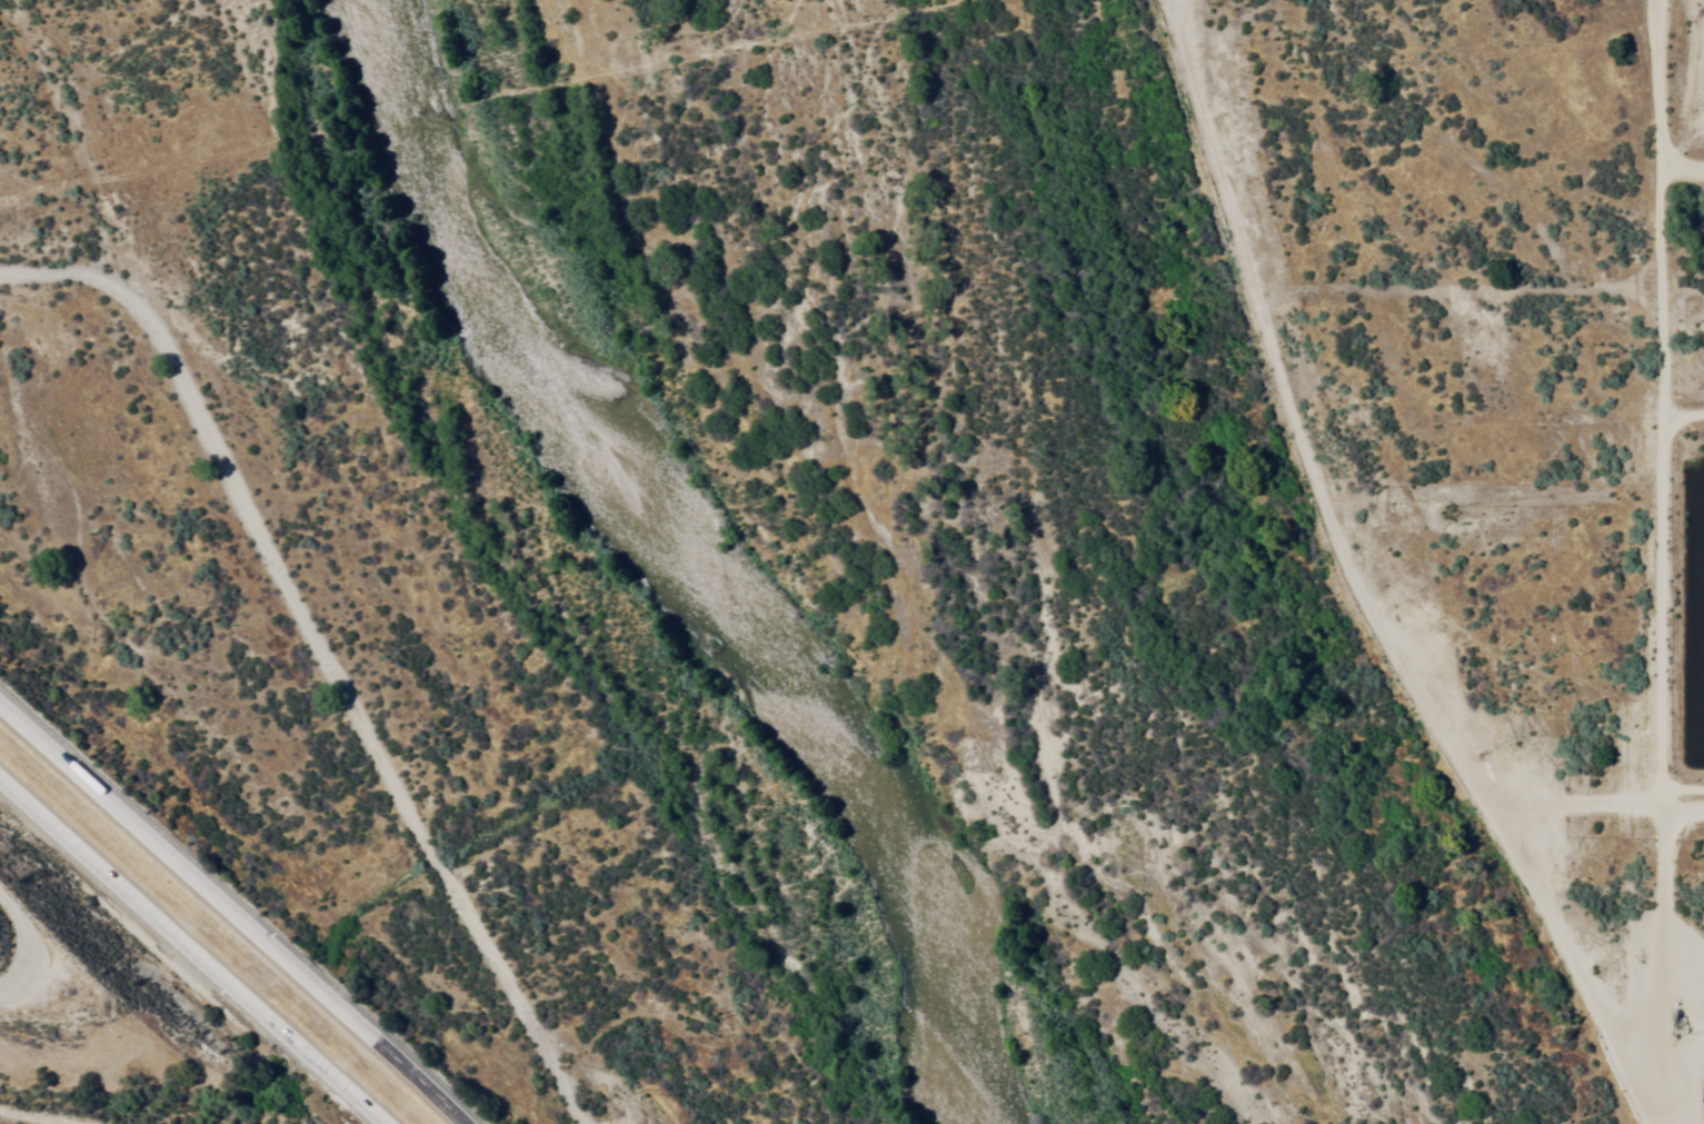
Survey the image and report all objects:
road: (53, 52)
road: (1696, 89)
road: (1620, 140)
road: (1339, 272)
road: (21, 285)
road: (43, 354)
river: (675, 567)
road: (87, 636)
road: (1417, 636)
road: (308, 658)
road: (1653, 724)
road: (232, 914)
road: (1546, 942)
road: (21, 944)
road: (192, 951)
road: (1, 992)
road: (84, 1108)
road: (172, 1122)

